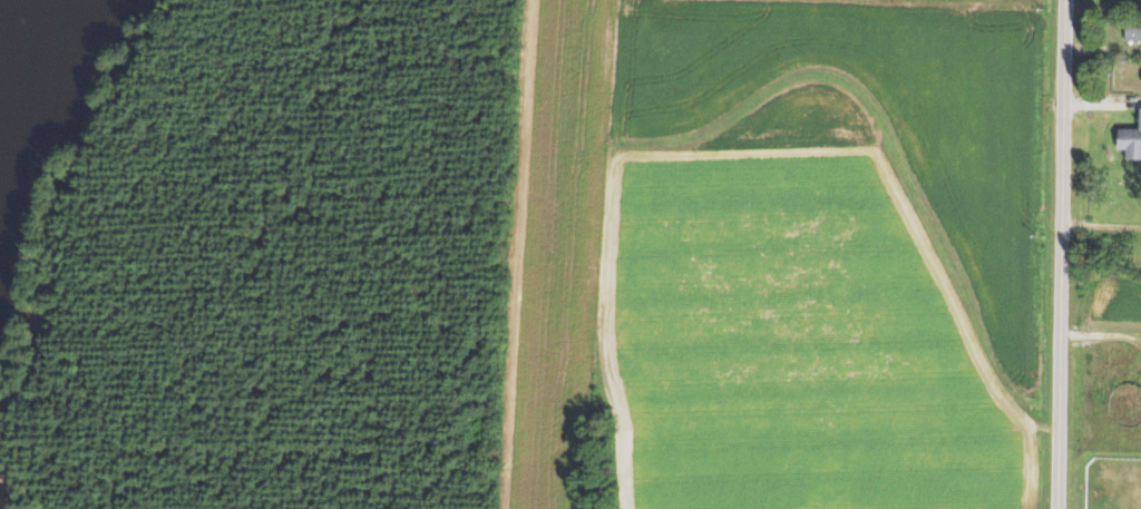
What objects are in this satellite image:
crop: (1118, 1)
building: (1131, 30)
road: (1100, 105)
building: (1129, 138)
crop: (781, 253)
road: (1062, 254)
crop: (1116, 298)
road: (1101, 332)

